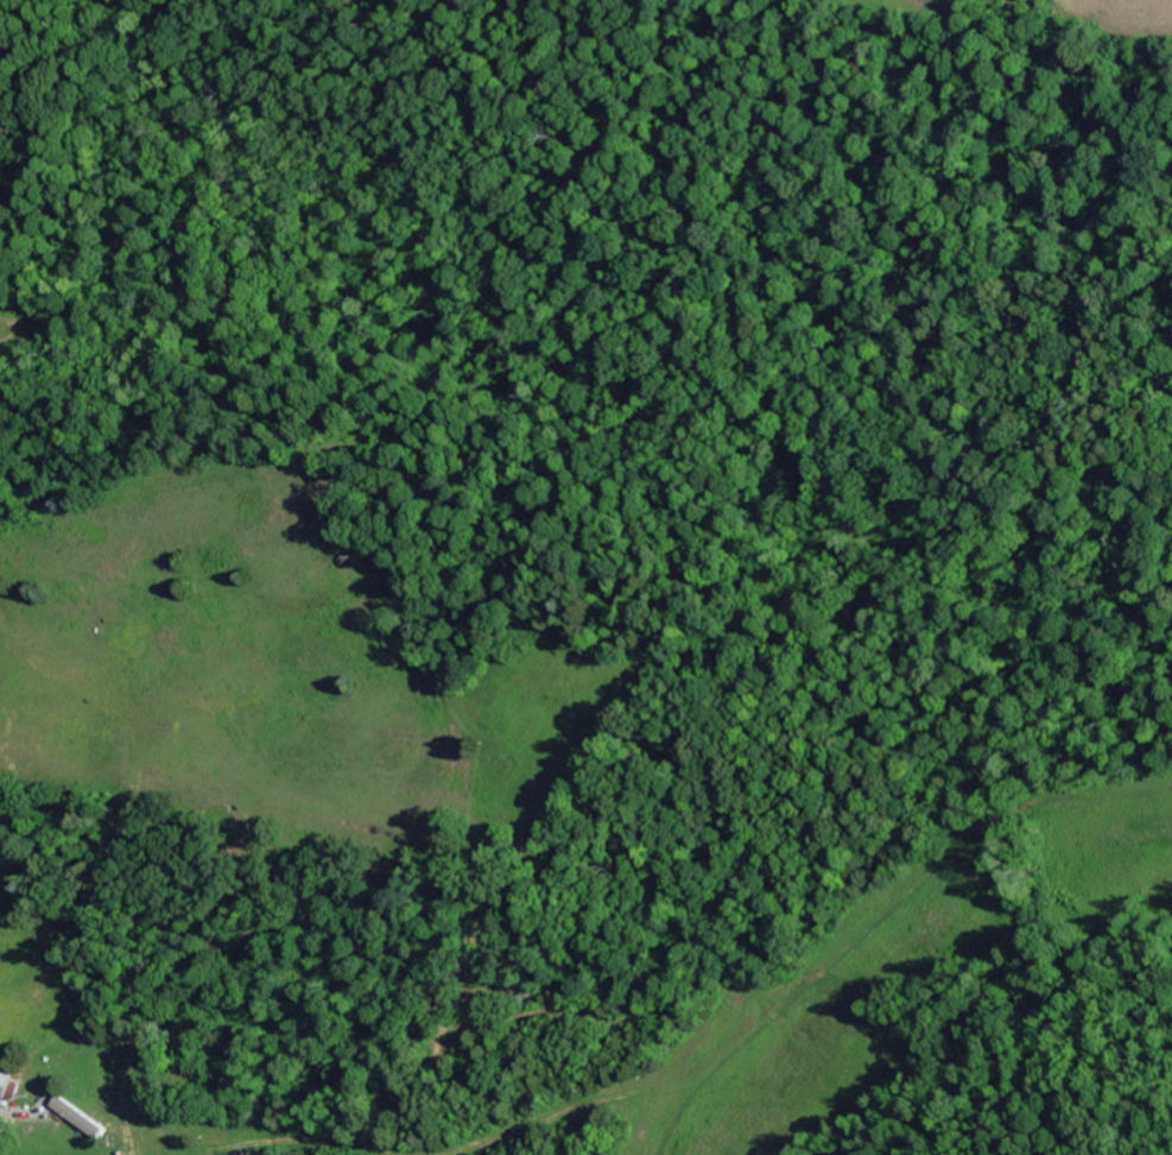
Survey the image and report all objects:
building: (6, 1086)

